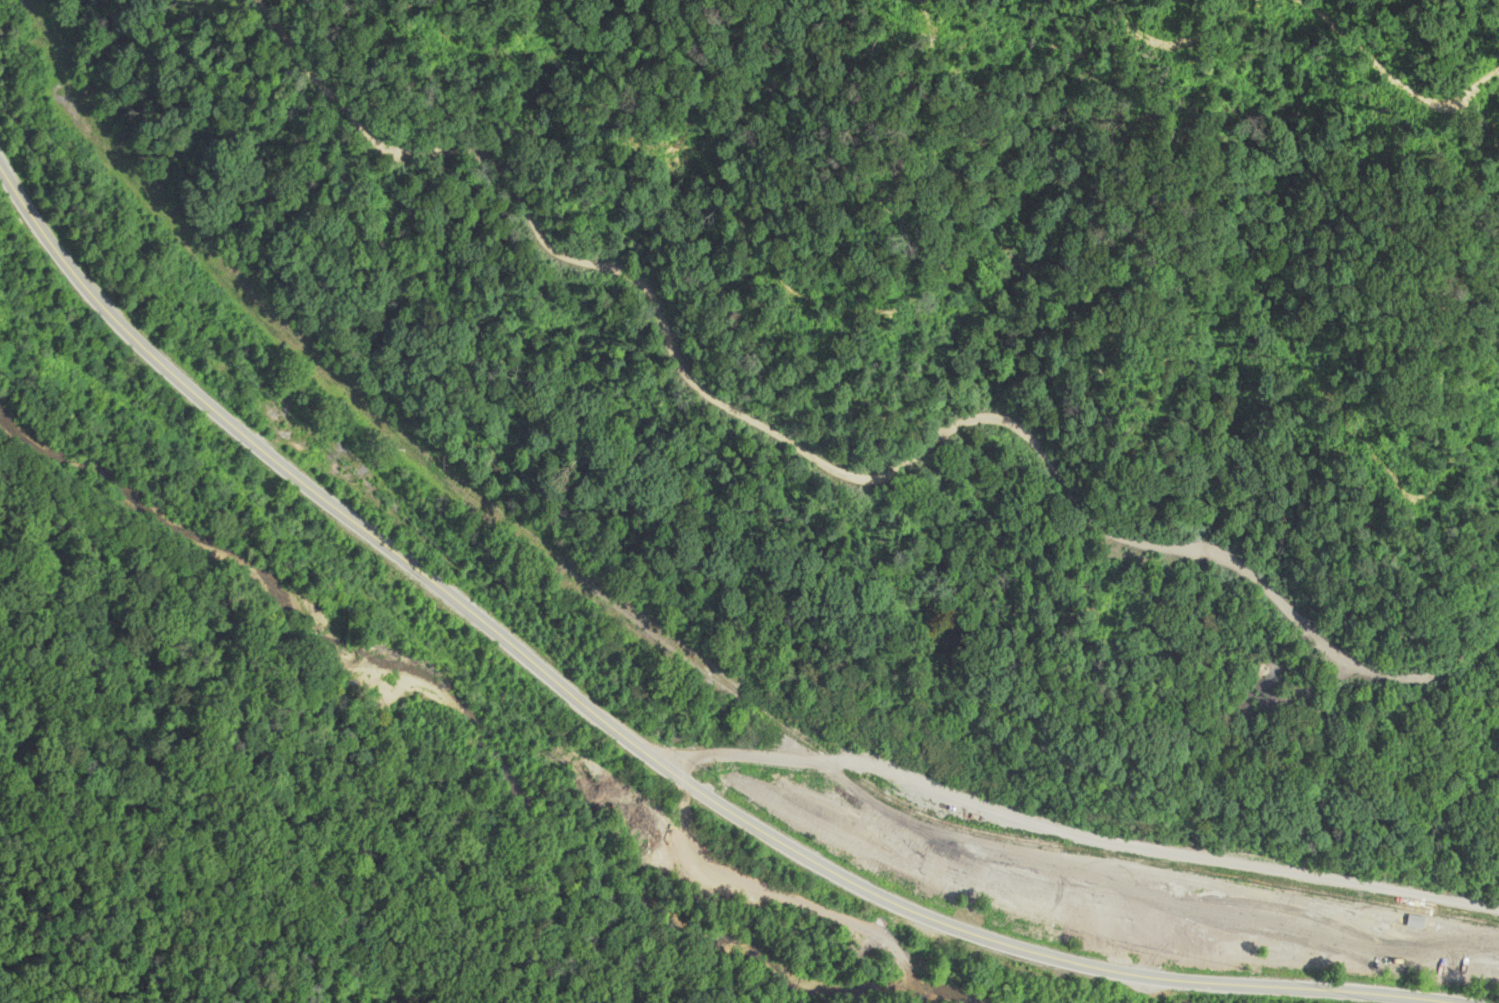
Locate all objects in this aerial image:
railway: (658, 640)
road: (622, 736)
road: (1074, 837)

